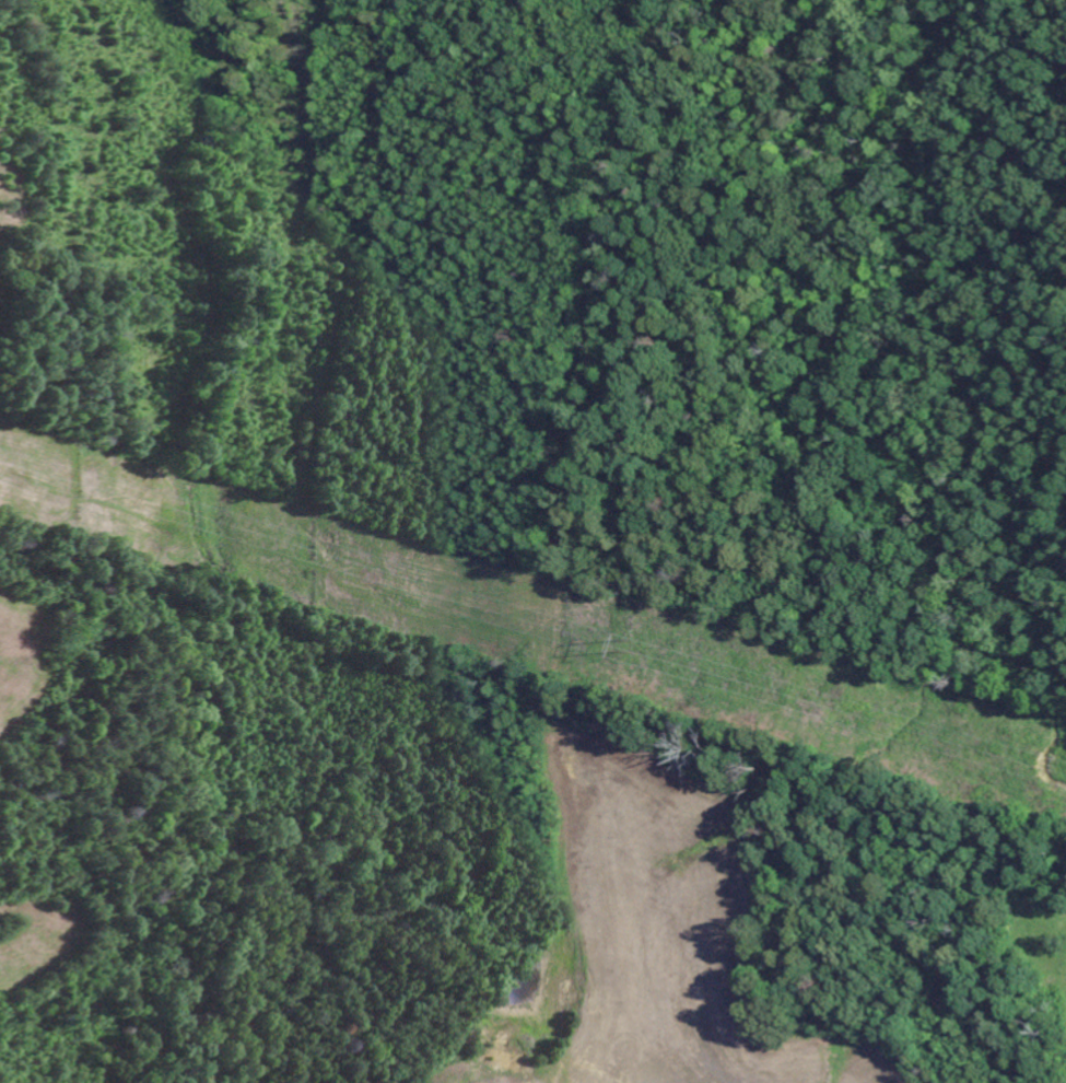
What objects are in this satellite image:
power tower: (632, 649)

